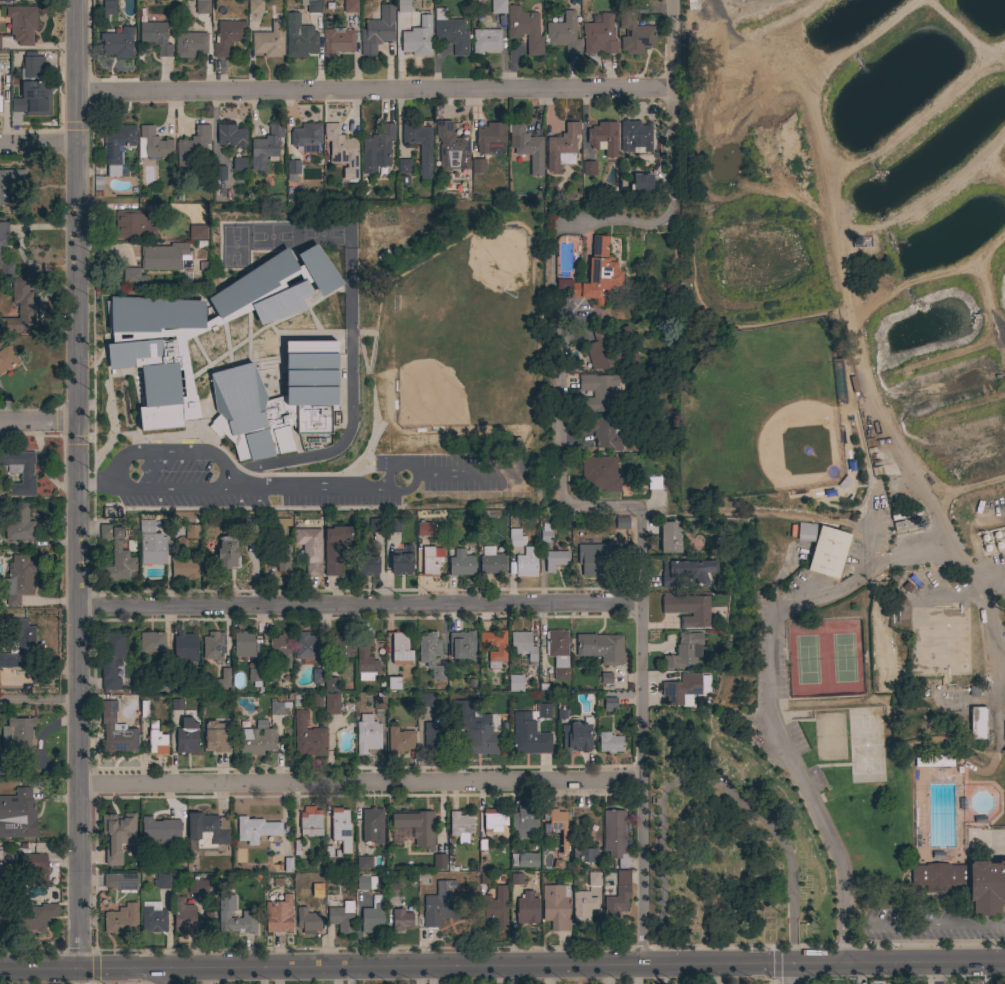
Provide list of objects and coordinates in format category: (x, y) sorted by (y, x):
building: (7, 0)
building: (311, 6)
building: (350, 6)
building: (403, 6)
building: (202, 7)
building: (255, 7)
building: (498, 7)
building: (108, 8)
building: (22, 24)
building: (524, 29)
building: (377, 31)
building: (633, 31)
building: (450, 32)
building: (564, 34)
building: (599, 36)
building: (155, 37)
building: (228, 37)
building: (299, 38)
building: (269, 41)
building: (337, 41)
building: (485, 41)
building: (416, 43)
building: (118, 44)
building: (190, 44)
building: (34, 87)
road: (376, 88)
road: (677, 103)
building: (305, 135)
building: (231, 136)
building: (489, 136)
building: (635, 137)
building: (603, 138)
road: (37, 144)
building: (152, 144)
building: (340, 145)
building: (192, 146)
building: (419, 146)
building: (116, 147)
building: (265, 147)
building: (526, 147)
building: (561, 147)
building: (376, 149)
building: (451, 149)
building: (239, 164)
building: (403, 166)
building: (478, 166)
building: (589, 168)
building: (292, 170)
building: (220, 173)
building: (642, 182)
building: (8, 183)
building: (101, 186)
building: (134, 225)
road: (627, 225)
park: (322, 231)
building: (197, 232)
park: (271, 235)
park: (235, 245)
building: (0, 255)
building: (162, 257)
building: (595, 275)
building: (133, 276)
building: (20, 310)
building: (203, 328)
building: (597, 351)
building: (6, 358)
building: (597, 393)
building: (276, 401)
park: (761, 411)
road: (560, 415)
road: (37, 424)
park: (860, 424)
building: (603, 432)
road: (227, 466)
road: (393, 467)
building: (19, 471)
building: (599, 473)
parking lot: (302, 477)
road: (95, 479)
building: (654, 482)
road: (74, 487)
road: (357, 491)
road: (608, 504)
building: (19, 523)
building: (376, 525)
building: (392, 525)
building: (902, 525)
building: (424, 529)
building: (804, 531)
building: (110, 532)
building: (192, 532)
building: (545, 533)
building: (516, 538)
building: (669, 538)
building: (150, 544)
building: (334, 548)
building: (309, 549)
building: (829, 552)
building: (227, 553)
building: (283, 558)
building: (597, 558)
building: (431, 560)
building: (554, 560)
building: (401, 561)
building: (120, 562)
building: (365, 562)
building: (526, 563)
building: (460, 564)
building: (492, 564)
building: (183, 568)
building: (686, 572)
building: (18, 579)
road: (357, 604)
building: (687, 609)
building: (152, 642)
building: (185, 642)
building: (244, 642)
building: (399, 643)
building: (20, 646)
building: (214, 646)
building: (462, 646)
building: (523, 646)
building: (306, 648)
building: (601, 648)
building: (281, 649)
building: (501, 649)
building: (338, 651)
building: (684, 651)
building: (558, 653)
building: (430, 654)
building: (365, 658)
park: (825, 658)
park: (845, 658)
park: (807, 660)
building: (112, 661)
building: (391, 669)
building: (270, 675)
building: (317, 676)
building: (255, 677)
building: (606, 678)
building: (222, 680)
building: (515, 683)
building: (331, 684)
building: (393, 684)
building: (160, 685)
building: (681, 690)
road: (771, 696)
road: (38, 698)
building: (298, 699)
building: (317, 700)
building: (424, 700)
building: (379, 701)
building: (331, 704)
building: (177, 705)
building: (610, 705)
building: (278, 707)
building: (543, 710)
building: (460, 714)
road: (884, 714)
building: (977, 723)
building: (116, 731)
building: (367, 734)
building: (481, 734)
building: (17, 735)
road: (640, 735)
building: (434, 736)
building: (528, 736)
building: (187, 737)
building: (576, 737)
building: (215, 738)
building: (257, 739)
building: (156, 740)
building: (310, 741)
building: (399, 741)
building: (609, 743)
park: (868, 745)
road: (816, 750)
building: (6, 761)
building: (935, 761)
road: (358, 781)
building: (17, 815)
building: (495, 818)
building: (311, 822)
building: (373, 823)
building: (556, 823)
building: (522, 824)
building: (460, 826)
water park: (946, 826)
building: (416, 827)
building: (255, 829)
building: (341, 829)
building: (160, 830)
building: (206, 831)
building: (118, 836)
building: (615, 837)
park: (728, 839)
building: (362, 853)
building: (583, 856)
building: (0, 859)
building: (524, 860)
building: (439, 862)
building: (363, 864)
building: (285, 865)
building: (33, 870)
building: (939, 876)
building: (594, 878)
building: (517, 879)
building: (120, 881)
building: (162, 882)
building: (365, 882)
building: (197, 886)
building: (986, 886)
building: (316, 890)
building: (392, 890)
road: (872, 901)
building: (615, 903)
building: (439, 904)
building: (495, 906)
building: (556, 907)
building: (582, 907)
building: (4, 909)
building: (526, 909)
building: (248, 914)
building: (279, 915)
building: (183, 916)
building: (374, 916)
building: (153, 917)
building: (342, 917)
building: (34, 918)
building: (307, 919)
building: (121, 920)
building: (401, 920)
road: (925, 924)
parking lot: (928, 926)
road: (502, 968)
road: (792, 975)
road: (168, 979)

